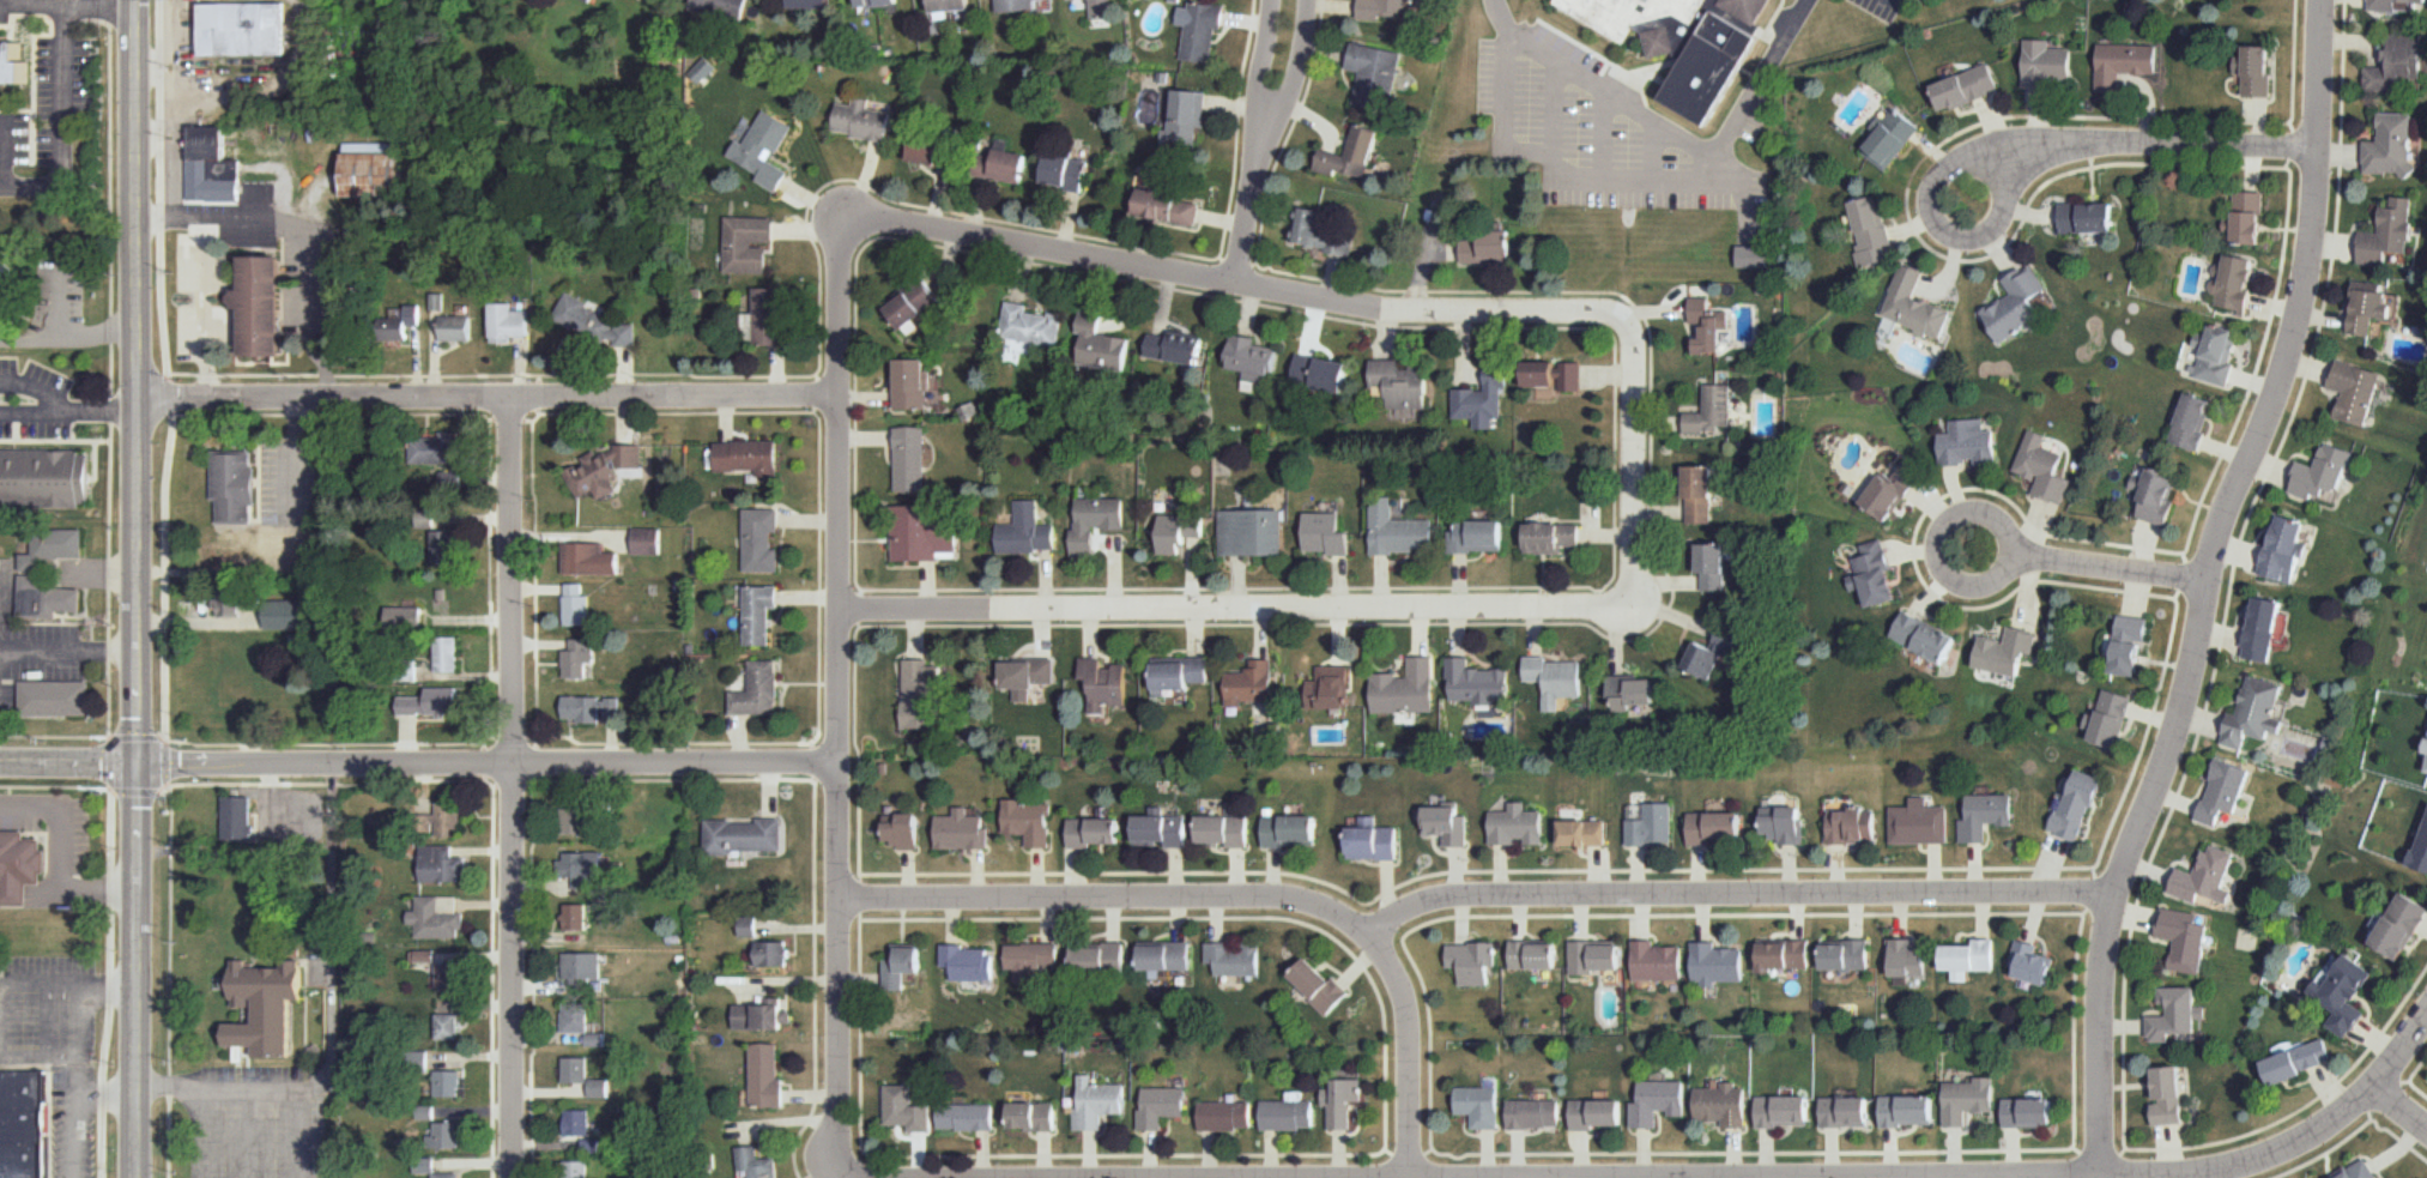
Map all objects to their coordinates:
road: (0, 1)
building: (1090, 2)
building: (811, 4)
building: (877, 4)
building: (1015, 5)
building: (2392, 5)
building: (721, 7)
building: (949, 7)
building: (1384, 7)
road: (29, 8)
parking lot: (1883, 8)
building: (1100, 11)
building: (1202, 28)
building: (243, 30)
building: (1681, 41)
road: (180, 53)
road: (1260, 54)
road: (1297, 59)
building: (2120, 61)
building: (11, 64)
building: (2044, 64)
building: (2396, 68)
building: (2254, 72)
building: (1374, 77)
road: (60, 85)
building: (1963, 86)
road: (1755, 89)
road: (1610, 95)
building: (1185, 115)
building: (860, 122)
parking lot: (50, 129)
parking lot: (1597, 132)
road: (152, 135)
building: (1886, 137)
road: (165, 140)
building: (925, 140)
road: (2154, 144)
building: (2389, 145)
road: (1473, 149)
building: (761, 150)
building: (1349, 152)
road: (1973, 159)
building: (994, 163)
building: (212, 167)
building: (374, 168)
building: (1061, 170)
road: (1640, 181)
road: (1251, 195)
park: (1966, 198)
building: (1166, 209)
road: (161, 210)
parking lot: (240, 216)
building: (2083, 217)
building: (2245, 217)
road: (305, 229)
building: (1323, 229)
building: (1871, 230)
building: (2386, 237)
building: (744, 244)
building: (1483, 247)
building: (1750, 255)
road: (1126, 264)
road: (819, 266)
building: (8, 284)
building: (2233, 284)
building: (904, 298)
building: (2010, 303)
road: (205, 304)
building: (262, 306)
building: (2367, 306)
building: (1911, 307)
building: (762, 318)
building: (399, 322)
building: (506, 322)
building: (593, 322)
building: (1705, 324)
building: (454, 327)
road: (1539, 327)
building: (1024, 328)
road: (69, 342)
building: (1098, 343)
building: (1174, 346)
road: (1634, 352)
building: (2215, 355)
building: (1252, 360)
road: (110, 368)
building: (1317, 370)
building: (1551, 373)
building: (910, 385)
building: (1398, 386)
road: (30, 391)
building: (2354, 391)
road: (488, 397)
building: (1479, 400)
road: (289, 406)
road: (98, 409)
road: (29, 410)
building: (1709, 410)
road: (654, 411)
road: (514, 417)
building: (2190, 419)
road: (488, 422)
building: (1965, 441)
building: (432, 448)
building: (745, 458)
building: (907, 458)
building: (601, 466)
building: (2041, 467)
road: (289, 470)
building: (2320, 473)
building: (44, 478)
building: (234, 487)
building: (1697, 491)
building: (1886, 491)
building: (2154, 496)
parking lot: (279, 506)
building: (1091, 520)
building: (1024, 528)
building: (921, 530)
building: (1394, 530)
building: (1249, 531)
road: (2009, 531)
building: (1175, 532)
building: (1325, 533)
building: (1475, 536)
building: (1550, 537)
building: (759, 538)
building: (647, 539)
building: (444, 546)
park: (1972, 546)
building: (2281, 548)
building: (589, 557)
building: (1711, 566)
road: (2111, 566)
building: (49, 572)
building: (1872, 573)
road: (2184, 574)
road: (818, 575)
road: (2208, 585)
road: (110, 588)
road: (140, 588)
road: (1935, 596)
building: (232, 599)
road: (535, 599)
building: (576, 605)
road: (1233, 608)
building: (761, 612)
building: (290, 614)
building: (405, 617)
road: (195, 621)
building: (2262, 628)
building: (1920, 635)
road: (1610, 639)
building: (2120, 642)
road: (71, 648)
building: (2004, 651)
building: (1709, 653)
building: (446, 654)
building: (579, 657)
building: (405, 670)
building: (1025, 675)
building: (1175, 675)
building: (1553, 678)
building: (1248, 682)
building: (1475, 682)
building: (1329, 684)
building: (1101, 685)
road: (840, 688)
building: (1404, 688)
building: (759, 689)
building: (920, 690)
building: (1628, 691)
building: (56, 697)
building: (431, 702)
building: (589, 708)
building: (2252, 712)
building: (2105, 715)
road: (55, 738)
road: (649, 742)
building: (2425, 745)
road: (2189, 756)
road: (110, 761)
road: (419, 761)
road: (482, 763)
building: (2426, 771)
road: (510, 787)
road: (54, 789)
road: (169, 789)
building: (2219, 791)
building: (2070, 803)
building: (1980, 814)
building: (237, 816)
building: (1028, 818)
road: (492, 820)
road: (62, 821)
building: (440, 821)
building: (580, 821)
building: (1446, 823)
building: (1780, 823)
building: (1847, 823)
building: (1915, 824)
building: (1513, 826)
building: (1647, 826)
building: (901, 828)
building: (1160, 828)
building: (1712, 828)
building: (962, 829)
building: (1093, 829)
building: (1221, 829)
building: (1288, 830)
building: (1579, 832)
building: (742, 835)
road: (815, 840)
building: (2419, 840)
building: (1369, 844)
building: (22, 865)
building: (442, 865)
building: (585, 870)
building: (2203, 876)
road: (2, 894)
road: (17, 895)
road: (85, 895)
road: (1739, 896)
road: (1237, 898)
road: (1628, 914)
building: (577, 917)
building: (438, 918)
building: (2399, 925)
building: (748, 926)
road: (332, 934)
building: (2183, 938)
building: (771, 953)
building: (1531, 953)
building: (1779, 953)
building: (1840, 953)
building: (423, 954)
building: (1965, 954)
building: (1162, 955)
building: (1098, 956)
building: (1591, 956)
building: (1902, 956)
building: (1030, 957)
building: (1231, 957)
road: (532, 960)
building: (1470, 960)
building: (1656, 960)
building: (2026, 961)
building: (967, 962)
building: (1712, 962)
building: (900, 963)
building: (585, 967)
building: (449, 975)
road: (24, 983)
road: (169, 983)
road: (110, 984)
building: (1317, 984)
building: (2337, 991)
building: (268, 1005)
road: (75, 1008)
building: (759, 1014)
building: (2172, 1015)
building: (576, 1017)
building: (448, 1027)
road: (2074, 1031)
building: (594, 1039)
road: (36, 1056)
building: (414, 1058)
building: (2290, 1059)
building: (573, 1068)
building: (765, 1074)
road: (2409, 1075)
building: (449, 1082)
building: (599, 1087)
road: (264, 1093)
building: (2165, 1097)
building: (1967, 1098)
building: (1656, 1100)
road: (73, 1101)
building: (1094, 1101)
building: (1342, 1101)
building: (1160, 1104)
building: (906, 1105)
building: (1477, 1105)
road: (2402, 1105)
building: (1720, 1106)
building: (1781, 1108)
building: (1844, 1110)
building: (1905, 1110)
building: (2024, 1110)
building: (423, 1112)
building: (1531, 1112)
building: (1594, 1112)
building: (1287, 1113)
building: (964, 1114)
building: (1030, 1114)
building: (1223, 1114)
building: (577, 1122)
building: (26, 1123)
parking lot: (260, 1123)
road: (2353, 1132)
building: (446, 1134)
road: (199, 1135)
road: (248, 1135)
building: (589, 1144)
road: (1754, 1150)
road: (1408, 1153)
road: (1357, 1154)
building: (753, 1161)
building: (423, 1165)
building: (576, 1168)
building: (2354, 1171)
building: (447, 1174)
road: (1654, 1176)

